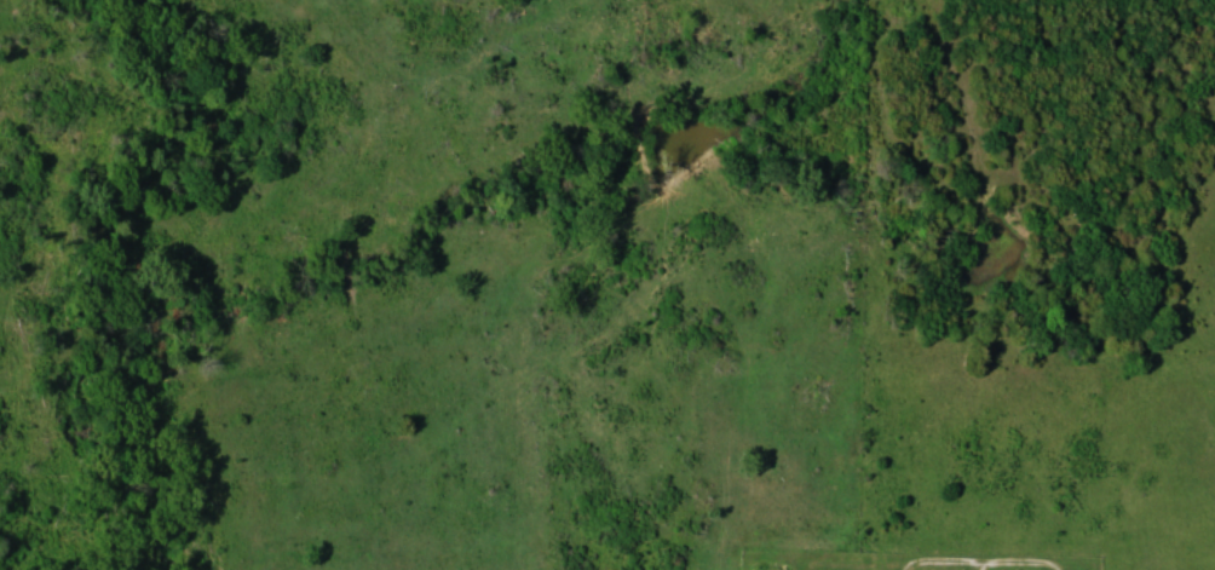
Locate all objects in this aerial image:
road: (987, 566)
road: (985, 568)

